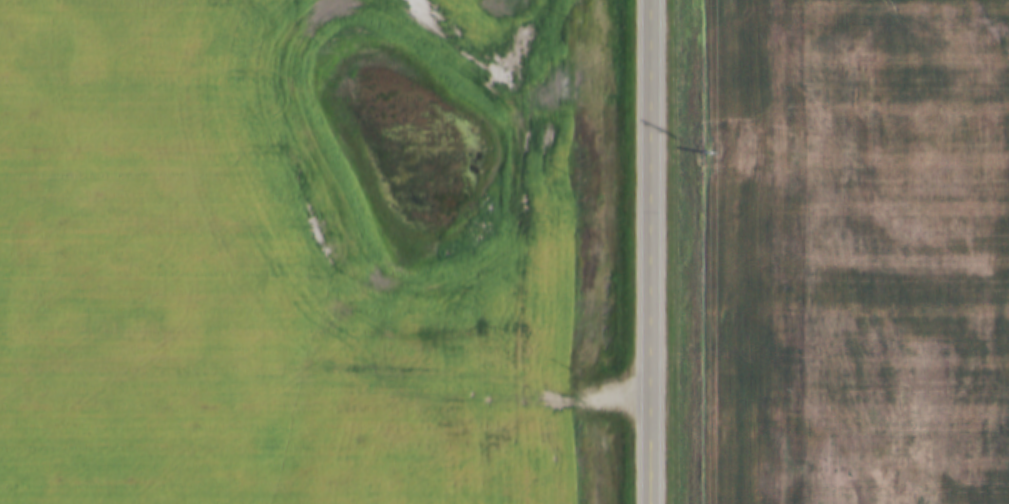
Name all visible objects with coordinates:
road: (648, 252)

